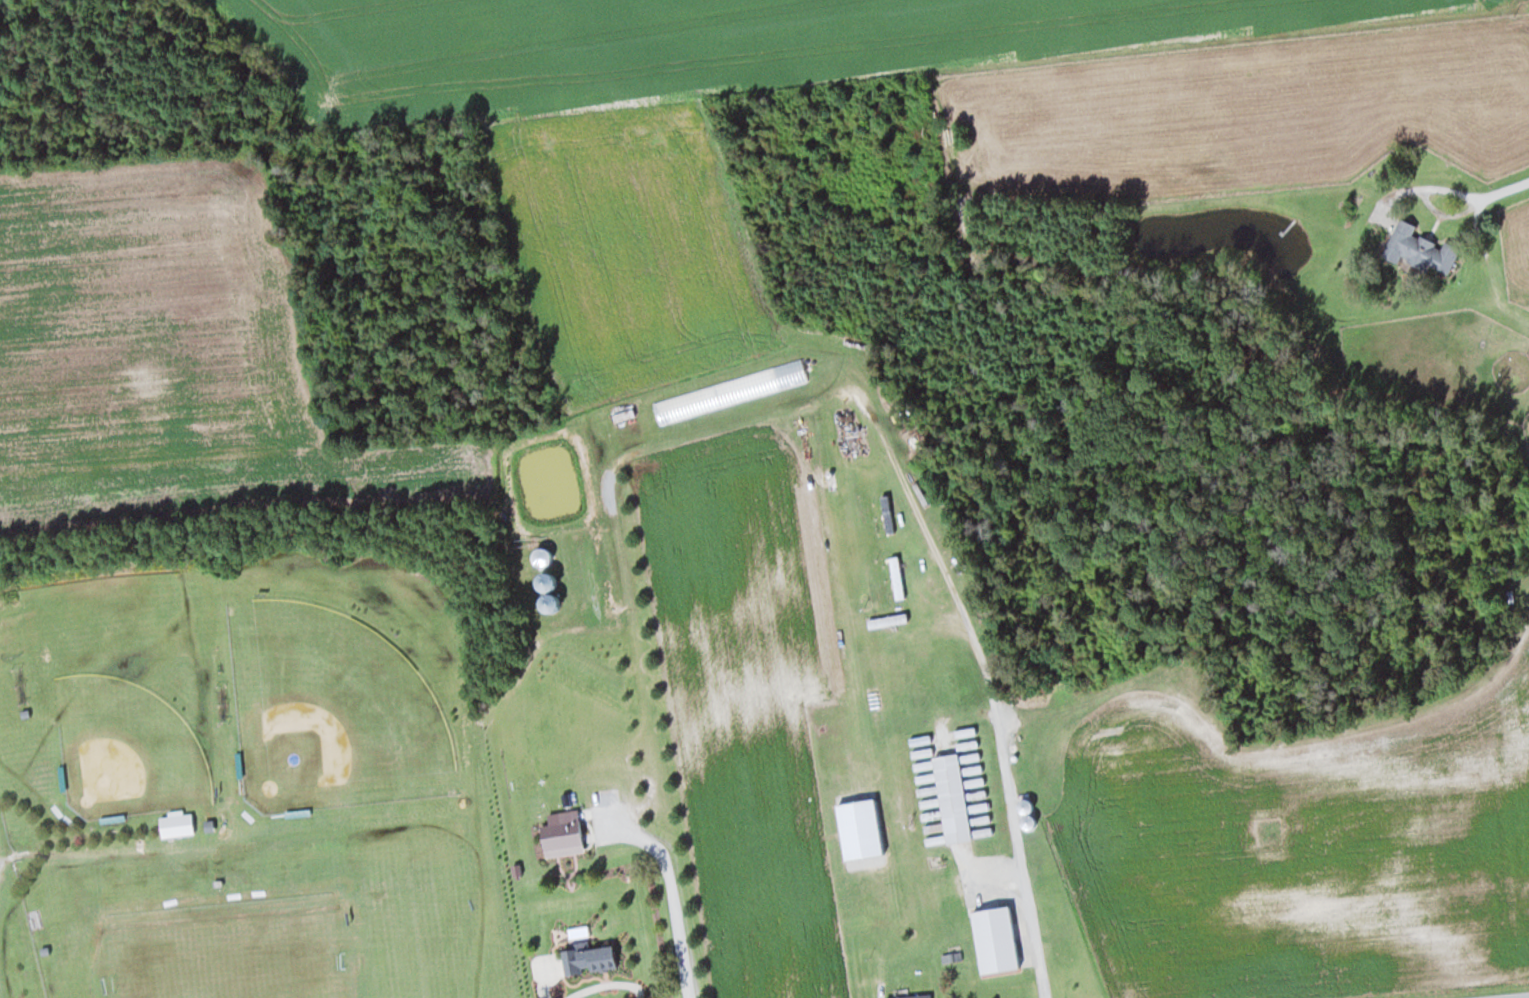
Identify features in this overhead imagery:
road: (1451, 189)
road: (1448, 213)
building: (1418, 249)
building: (744, 387)
building: (627, 427)
building: (887, 514)
building: (848, 521)
building: (538, 556)
building: (545, 576)
building: (898, 581)
road: (983, 674)
building: (951, 798)
building: (175, 825)
building: (562, 835)
road: (665, 894)
building: (995, 922)
building: (583, 960)
building: (911, 997)
road: (1520, 997)

